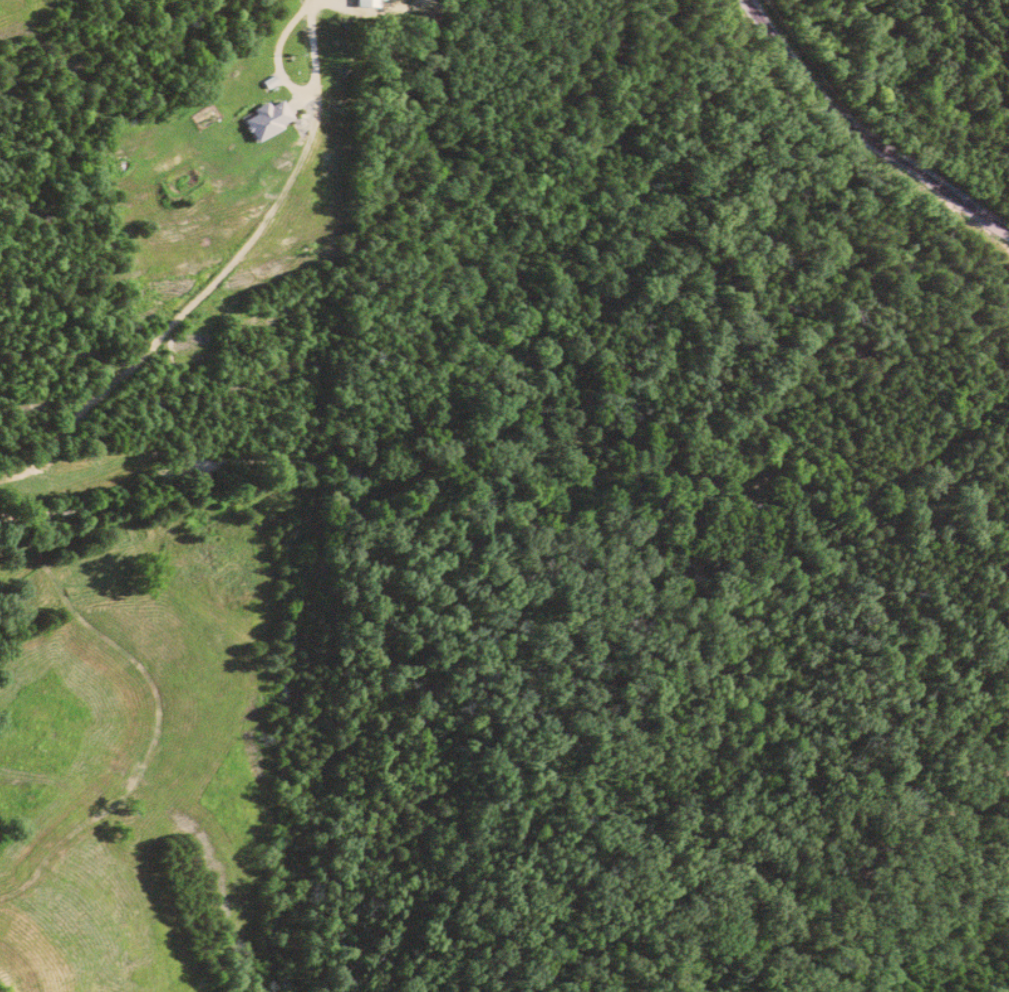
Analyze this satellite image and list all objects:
building: (368, 3)
road: (320, 56)
building: (266, 119)
road: (862, 134)

